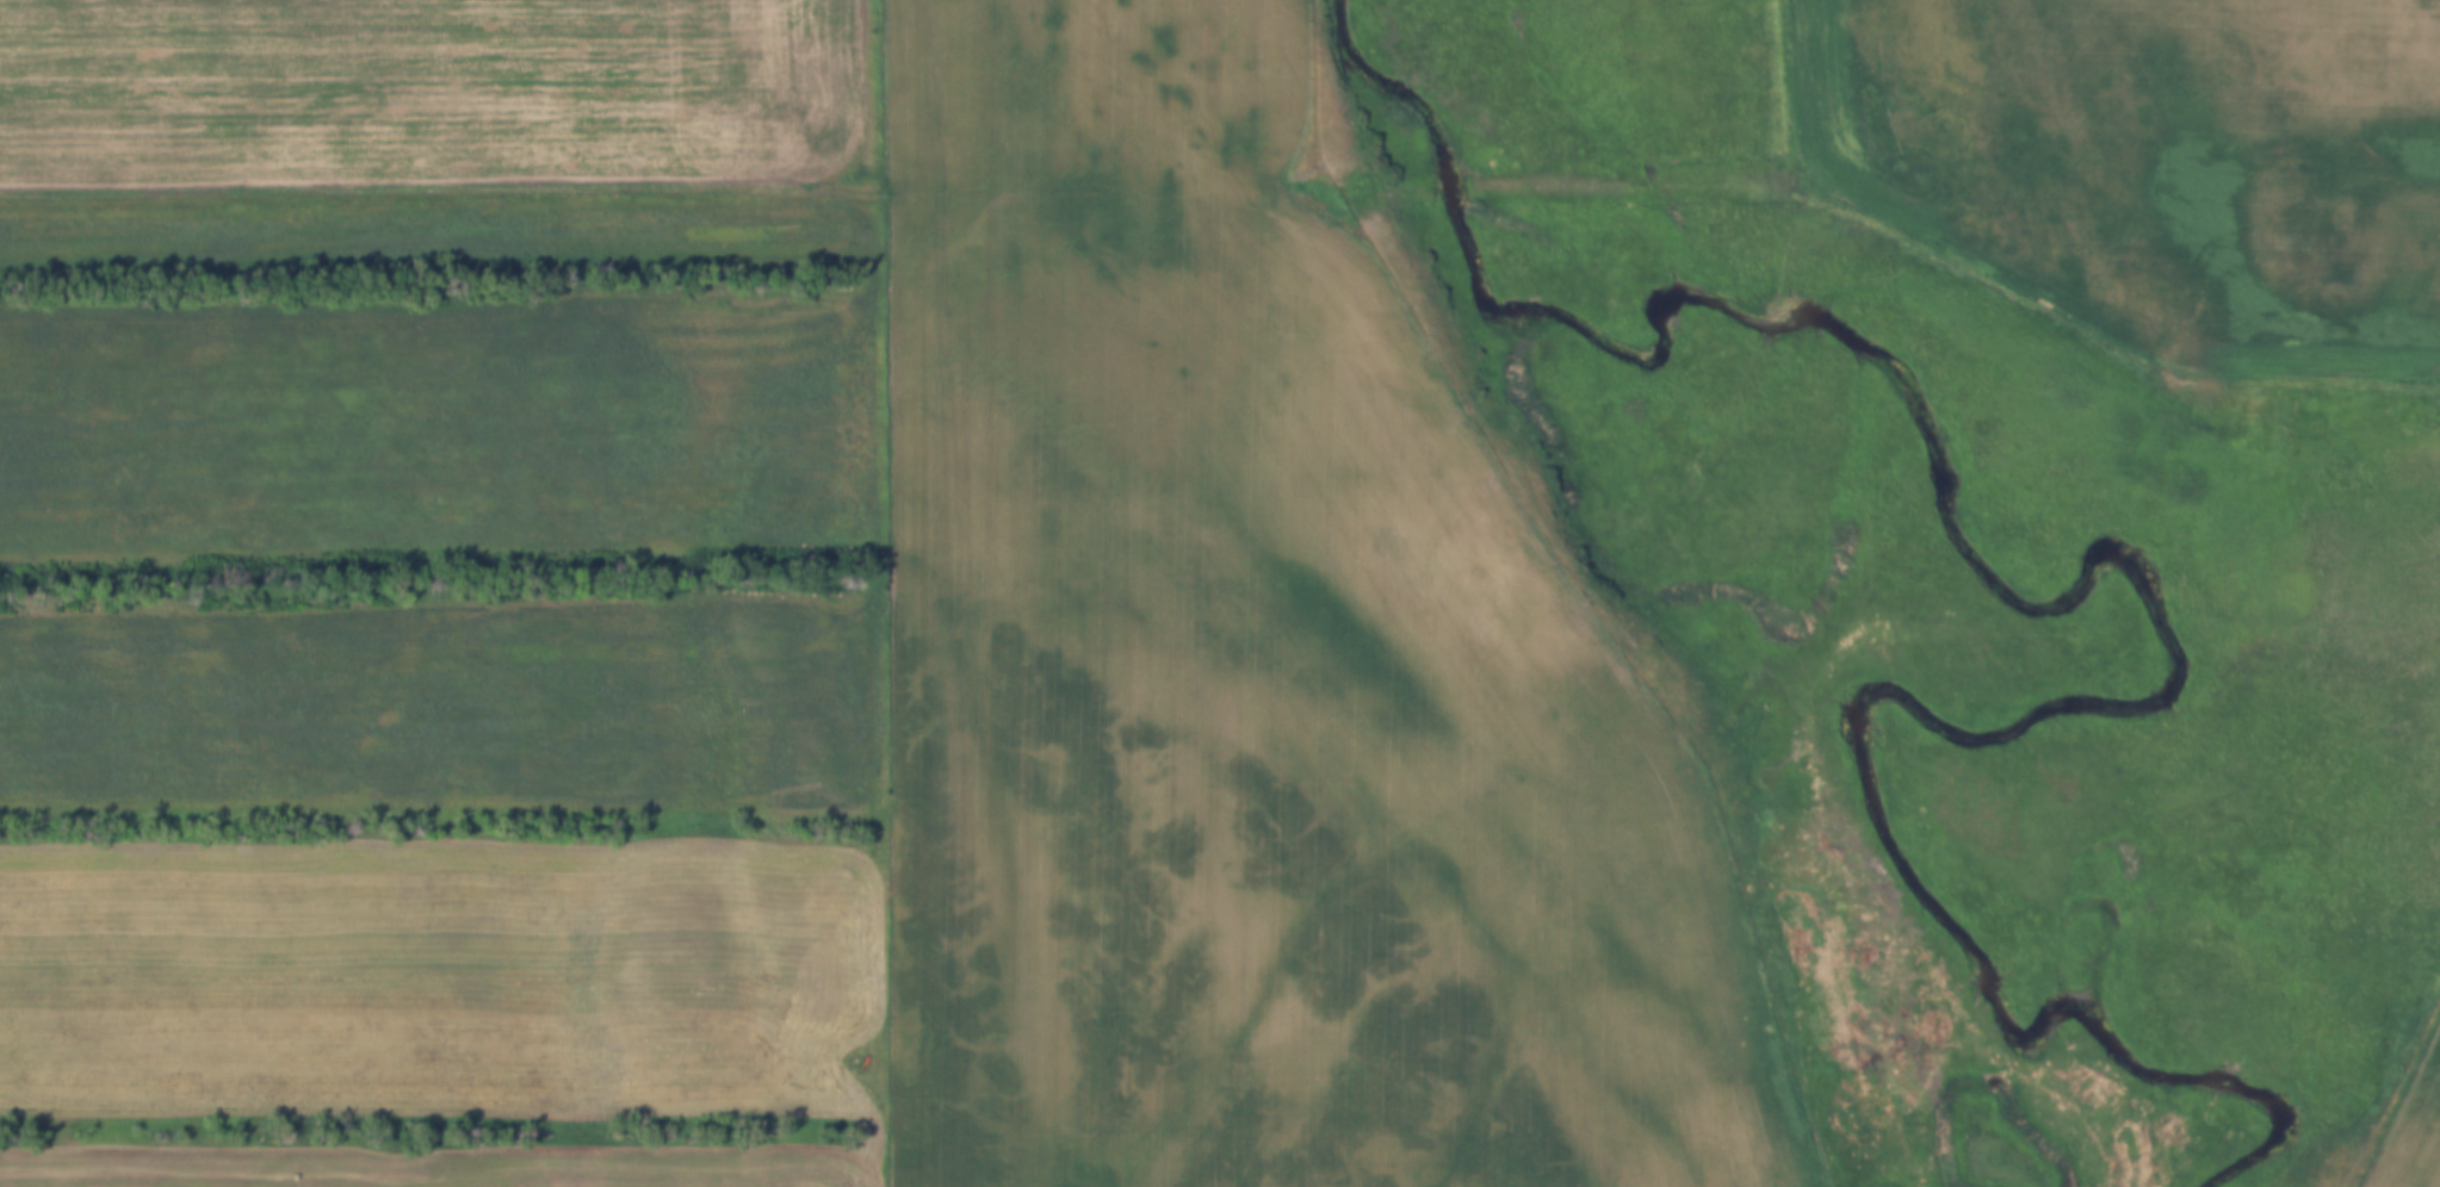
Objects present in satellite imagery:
road: (1228, 207)

